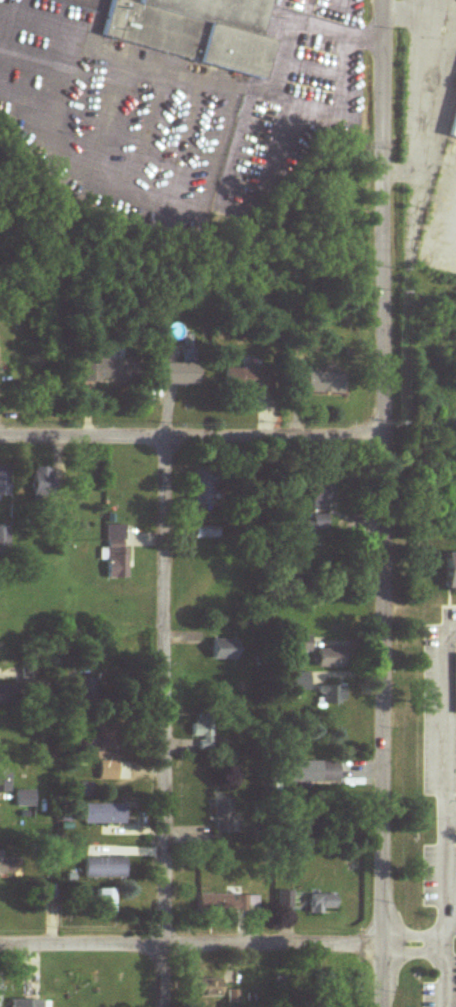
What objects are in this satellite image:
building: (195, 31)
road: (336, 34)
road: (159, 68)
road: (421, 92)
road: (294, 105)
building: (454, 132)
road: (436, 162)
building: (115, 368)
building: (177, 373)
building: (246, 380)
building: (324, 384)
road: (193, 440)
building: (41, 481)
building: (4, 483)
building: (205, 491)
building: (322, 497)
road: (385, 503)
building: (319, 523)
building: (4, 539)
building: (116, 552)
building: (450, 573)
building: (299, 645)
building: (224, 650)
building: (333, 658)
building: (299, 682)
building: (83, 688)
building: (6, 695)
building: (331, 695)
road: (165, 723)
road: (447, 724)
building: (204, 732)
building: (105, 736)
building: (107, 771)
building: (313, 773)
building: (4, 782)
building: (23, 799)
building: (104, 814)
building: (224, 817)
road: (451, 820)
building: (7, 862)
building: (104, 867)
building: (285, 899)
building: (104, 900)
building: (321, 903)
building: (228, 905)
road: (447, 913)
road: (191, 946)
road: (415, 946)
building: (209, 988)
building: (0, 990)
building: (26, 1004)

